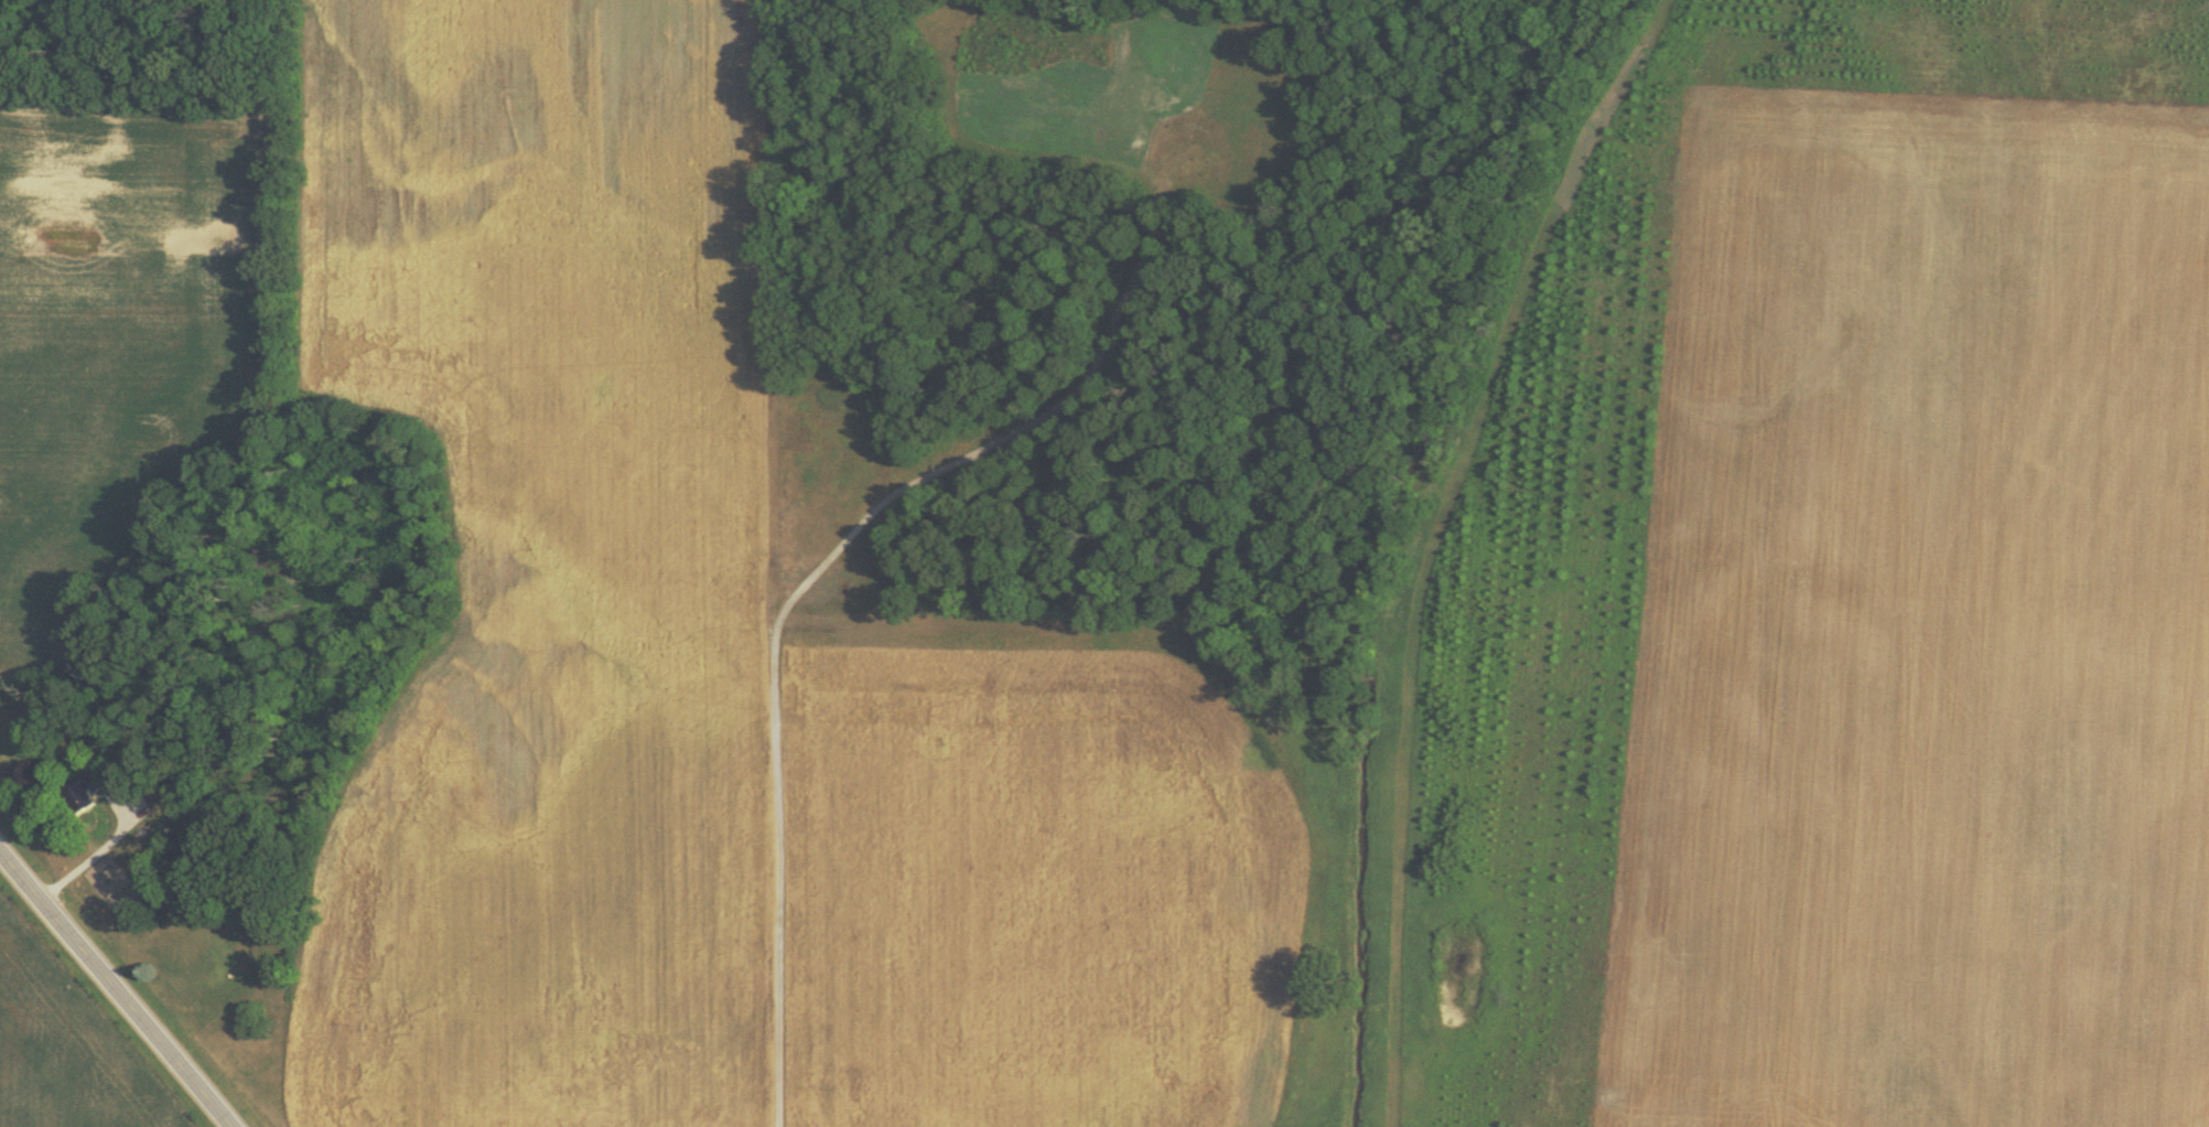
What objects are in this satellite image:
building: (74, 793)
road: (116, 990)
crop: (64, 1046)

